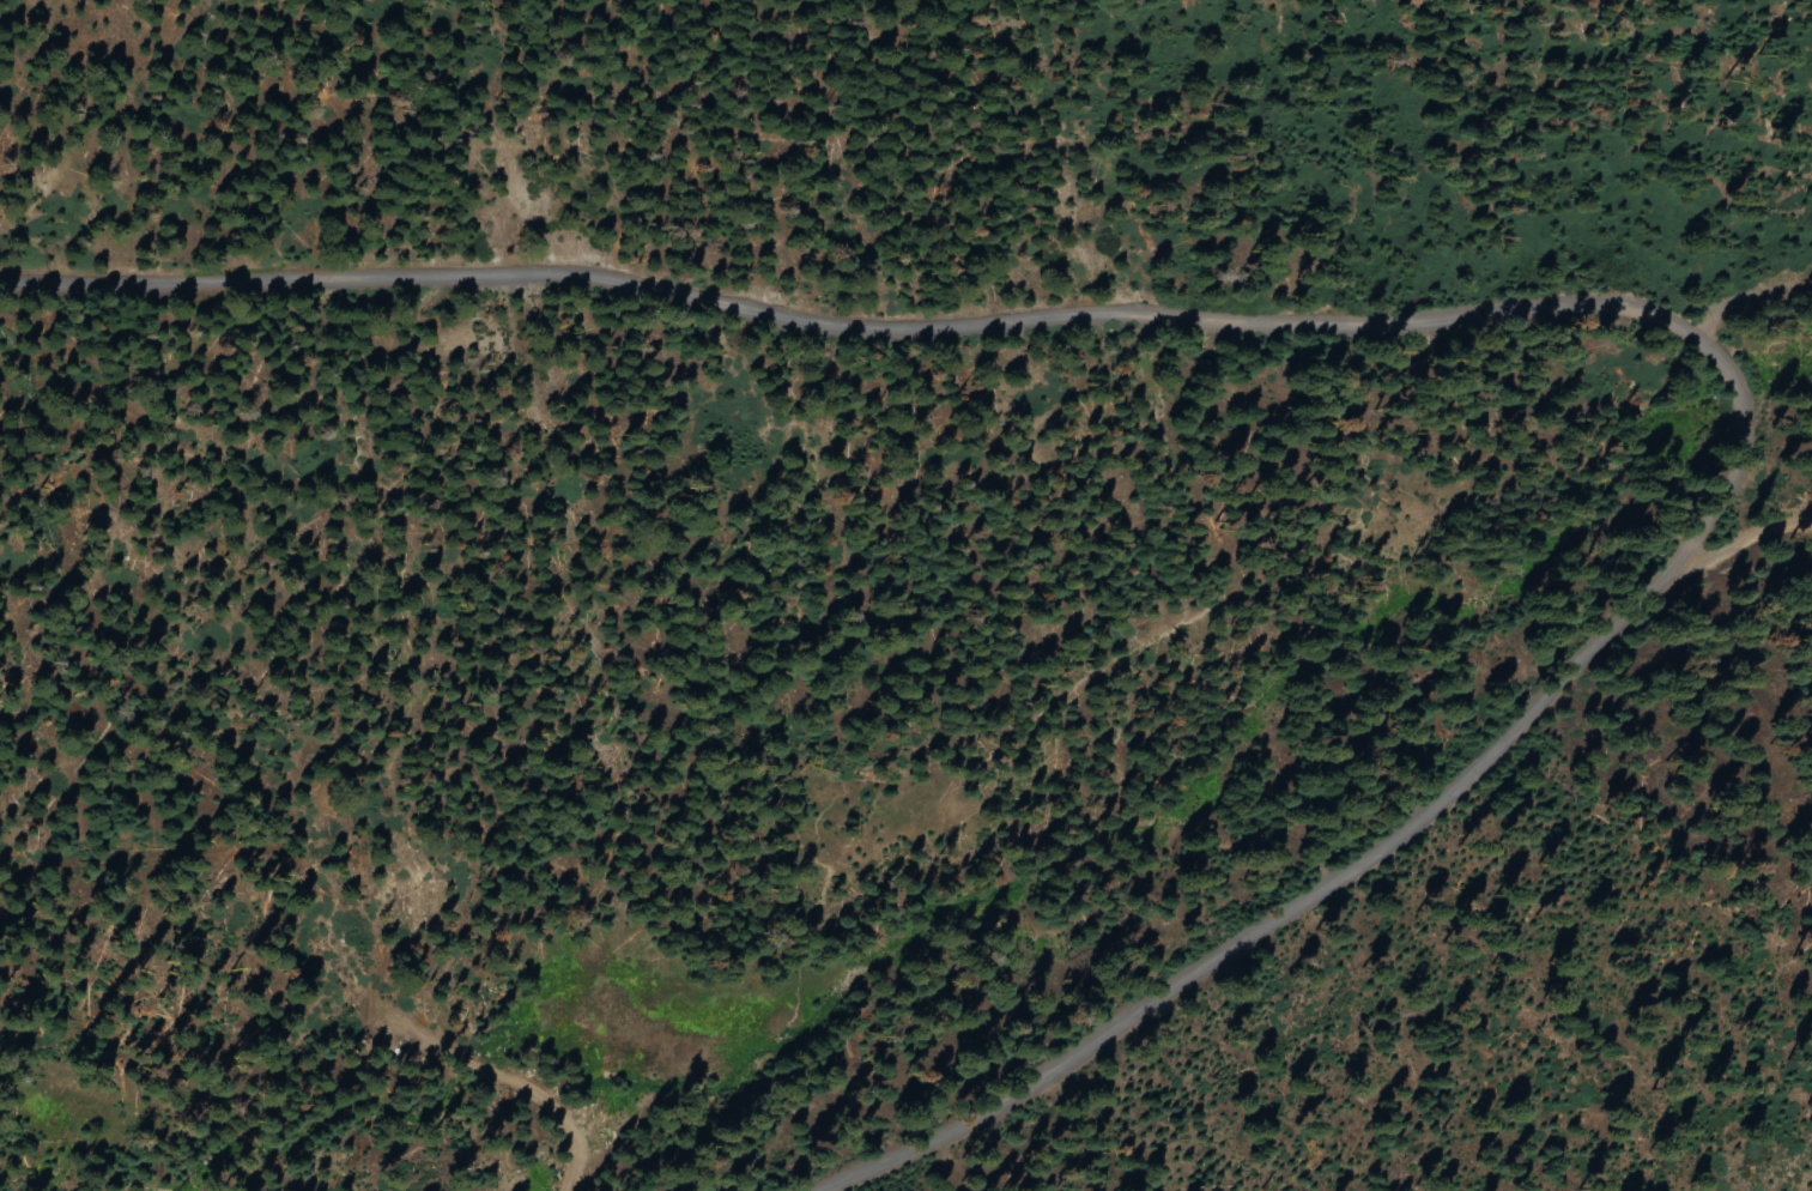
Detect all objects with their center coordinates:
road: (1743, 292)
road: (1510, 308)
road: (1747, 537)
road: (486, 1054)

